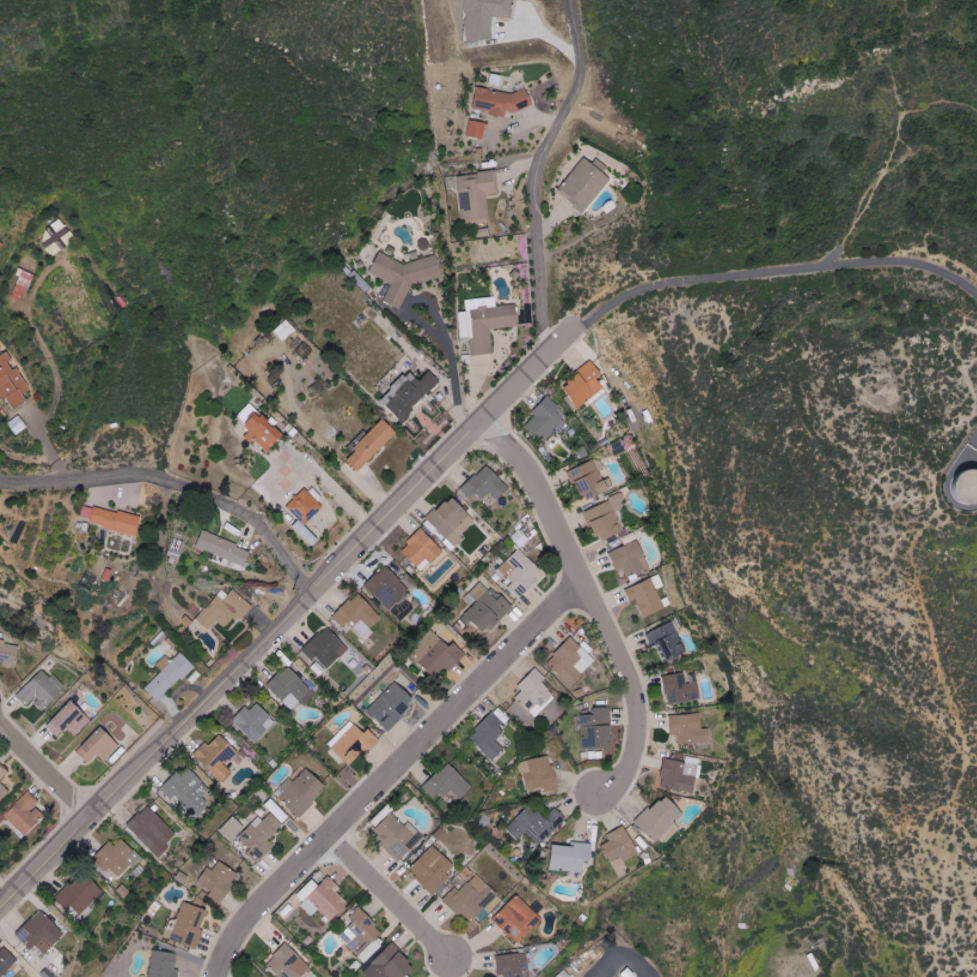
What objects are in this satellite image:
building: (486, 17)
building: (501, 101)
building: (477, 129)
road: (535, 170)
building: (585, 185)
building: (477, 196)
building: (483, 230)
building: (57, 237)
road: (775, 271)
building: (404, 275)
building: (22, 284)
building: (488, 322)
building: (285, 329)
road: (438, 331)
building: (12, 382)
building: (586, 384)
building: (409, 394)
building: (545, 420)
building: (18, 424)
building: (263, 432)
building: (372, 446)
road: (327, 479)
building: (590, 479)
road: (176, 482)
building: (486, 484)
building: (948, 491)
storage tank: (948, 491)
building: (305, 513)
building: (606, 516)
building: (113, 519)
building: (452, 521)
building: (24, 529)
building: (224, 548)
building: (177, 549)
building: (422, 549)
building: (630, 558)
building: (521, 573)
building: (389, 586)
building: (647, 596)
road: (593, 602)
building: (225, 609)
building: (403, 609)
building: (489, 609)
building: (358, 616)
road: (285, 617)
building: (667, 640)
building: (326, 648)
building: (9, 654)
building: (442, 657)
building: (570, 661)
building: (169, 677)
building: (289, 687)
building: (681, 688)
building: (40, 691)
building: (535, 692)
building: (392, 705)
building: (69, 720)
building: (254, 721)
building: (597, 728)
building: (690, 728)
building: (489, 736)
building: (353, 742)
building: (99, 746)
building: (217, 756)
road: (44, 771)
building: (2, 772)
road: (389, 772)
building: (539, 774)
building: (681, 774)
building: (448, 782)
building: (2, 791)
building: (188, 791)
building: (302, 791)
building: (278, 811)
building: (23, 814)
building: (661, 819)
building: (535, 824)
building: (232, 828)
building: (153, 830)
building: (261, 835)
building: (399, 836)
building: (620, 846)
building: (571, 856)
building: (118, 857)
building: (432, 868)
building: (219, 880)
building: (308, 889)
road: (390, 895)
building: (81, 897)
building: (473, 899)
building: (327, 900)
building: (518, 919)
building: (190, 924)
building: (40, 933)
building: (363, 935)
building: (6, 962)
building: (288, 963)
building: (164, 964)
building: (391, 964)
building: (515, 964)
building: (629, 973)
building: (563, 974)

